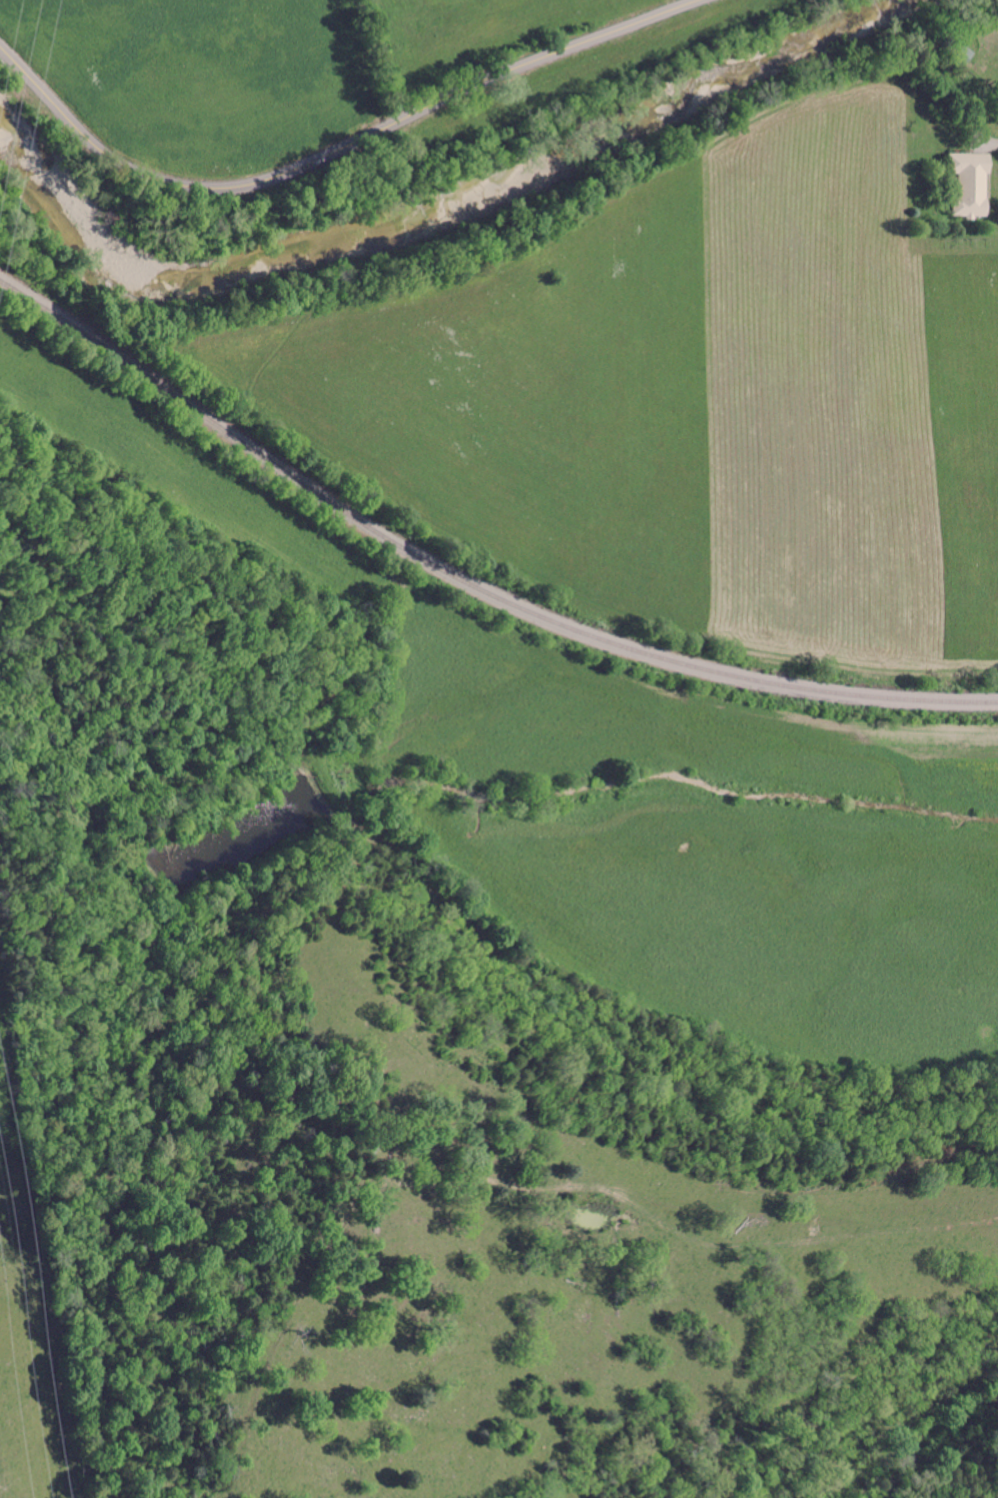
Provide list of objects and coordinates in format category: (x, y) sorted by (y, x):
road: (995, 143)
road: (336, 146)
railway: (463, 580)

